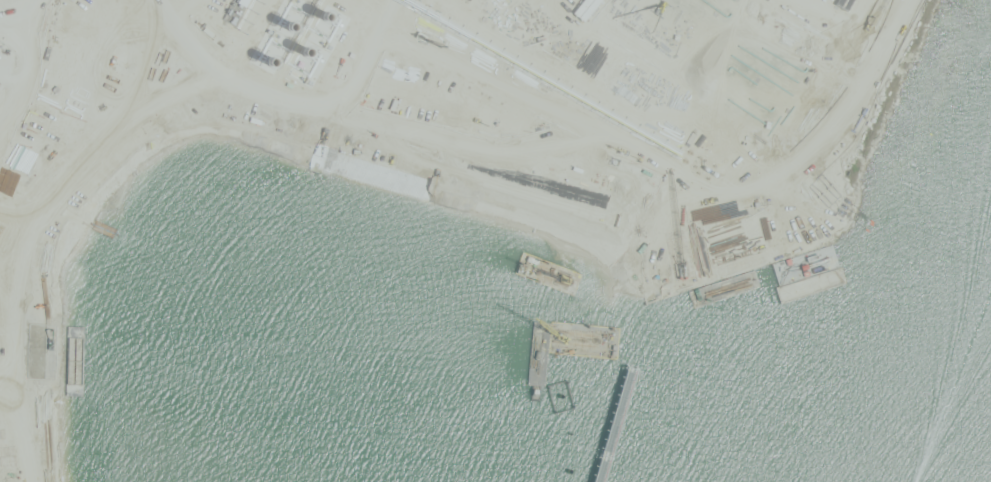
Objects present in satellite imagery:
building: (114, 11)
building: (111, 41)
building: (195, 54)
road: (252, 111)
building: (14, 113)
building: (33, 116)
building: (63, 120)
building: (88, 125)
building: (113, 129)
building: (38, 320)

